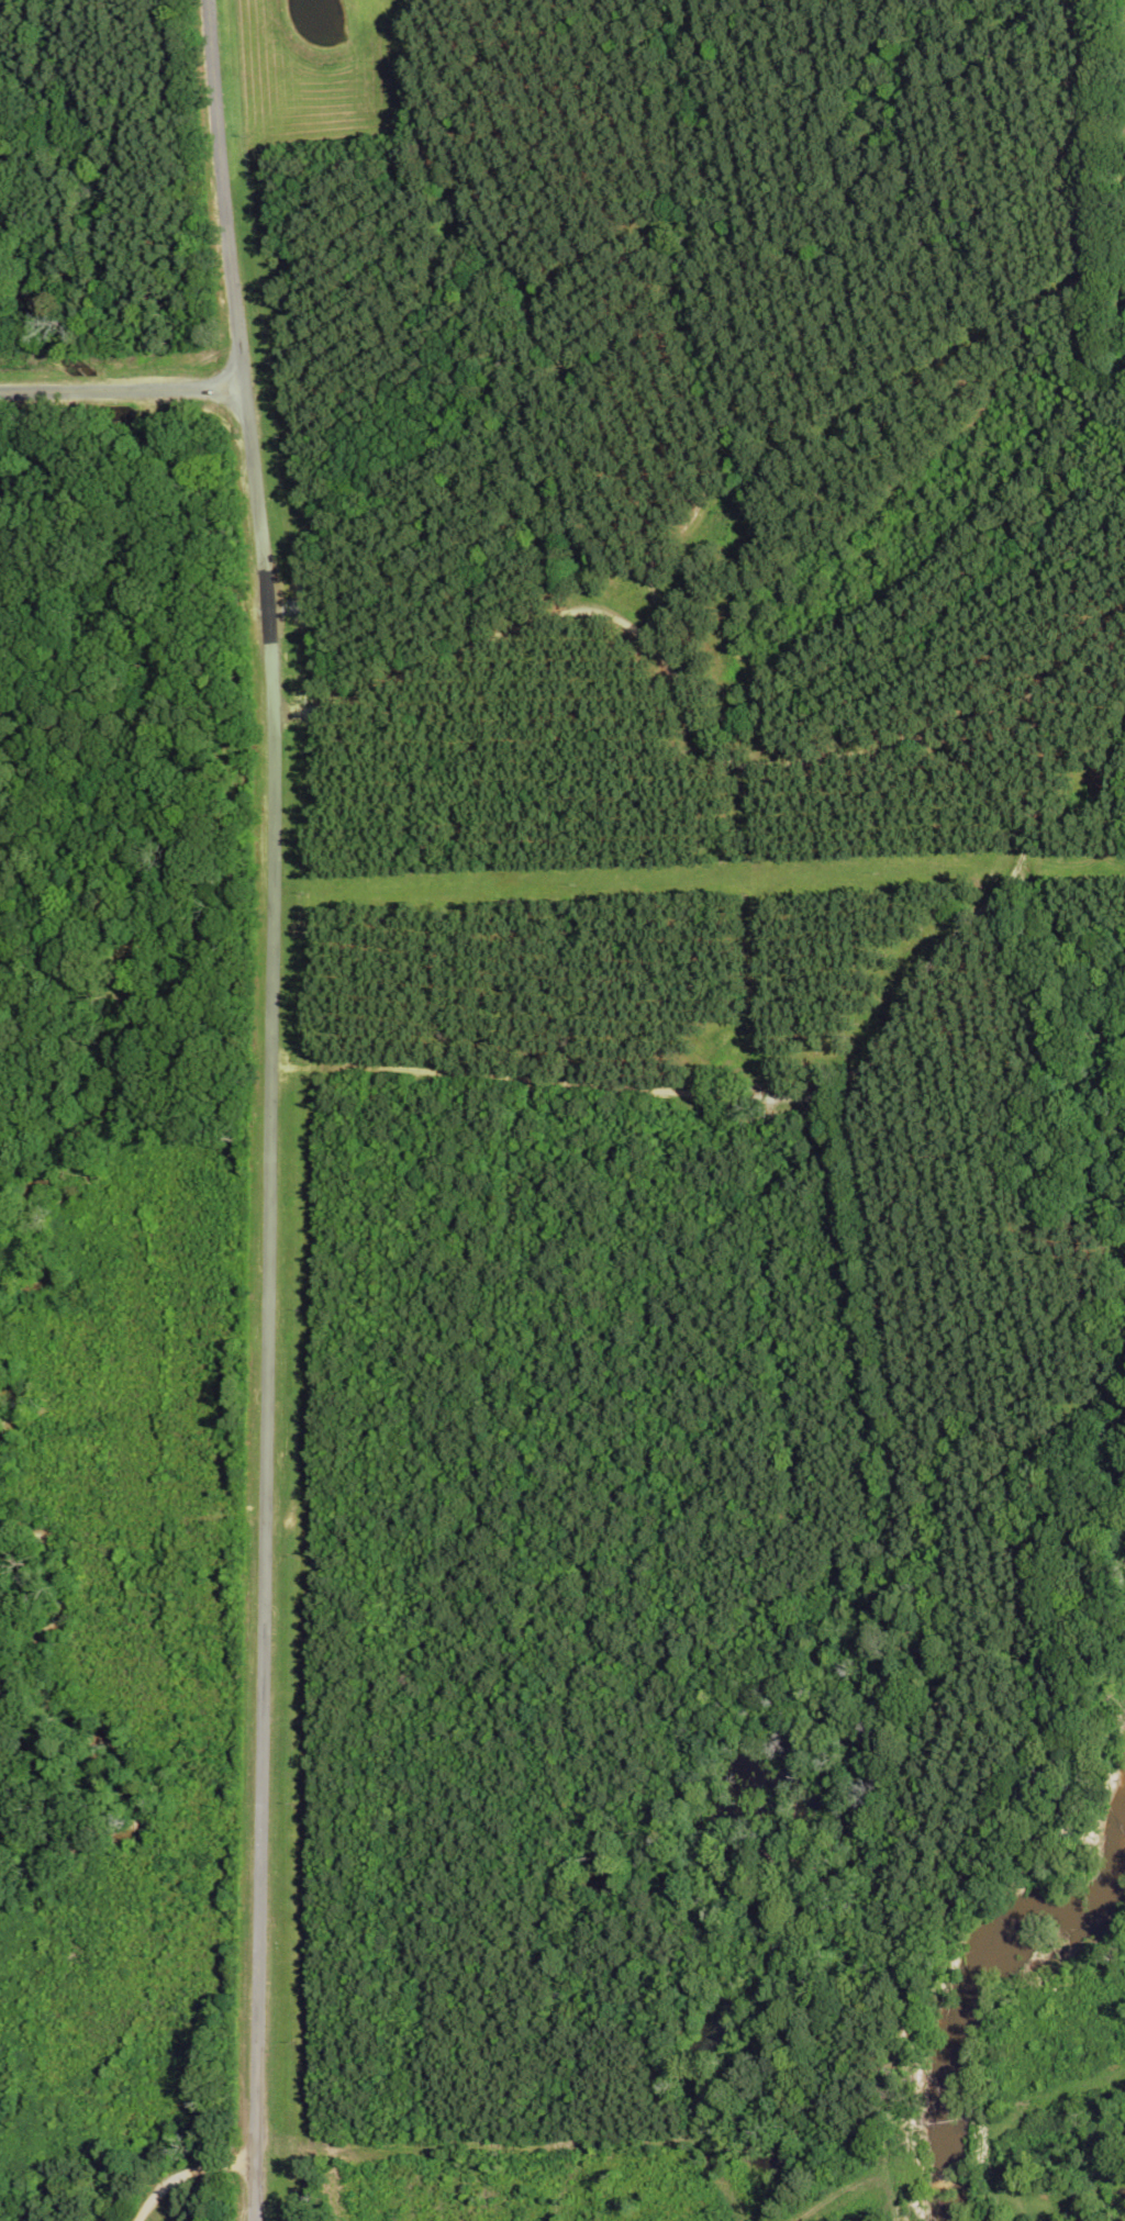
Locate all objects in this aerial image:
road: (121, 392)
road: (271, 1108)
river: (966, 1993)

